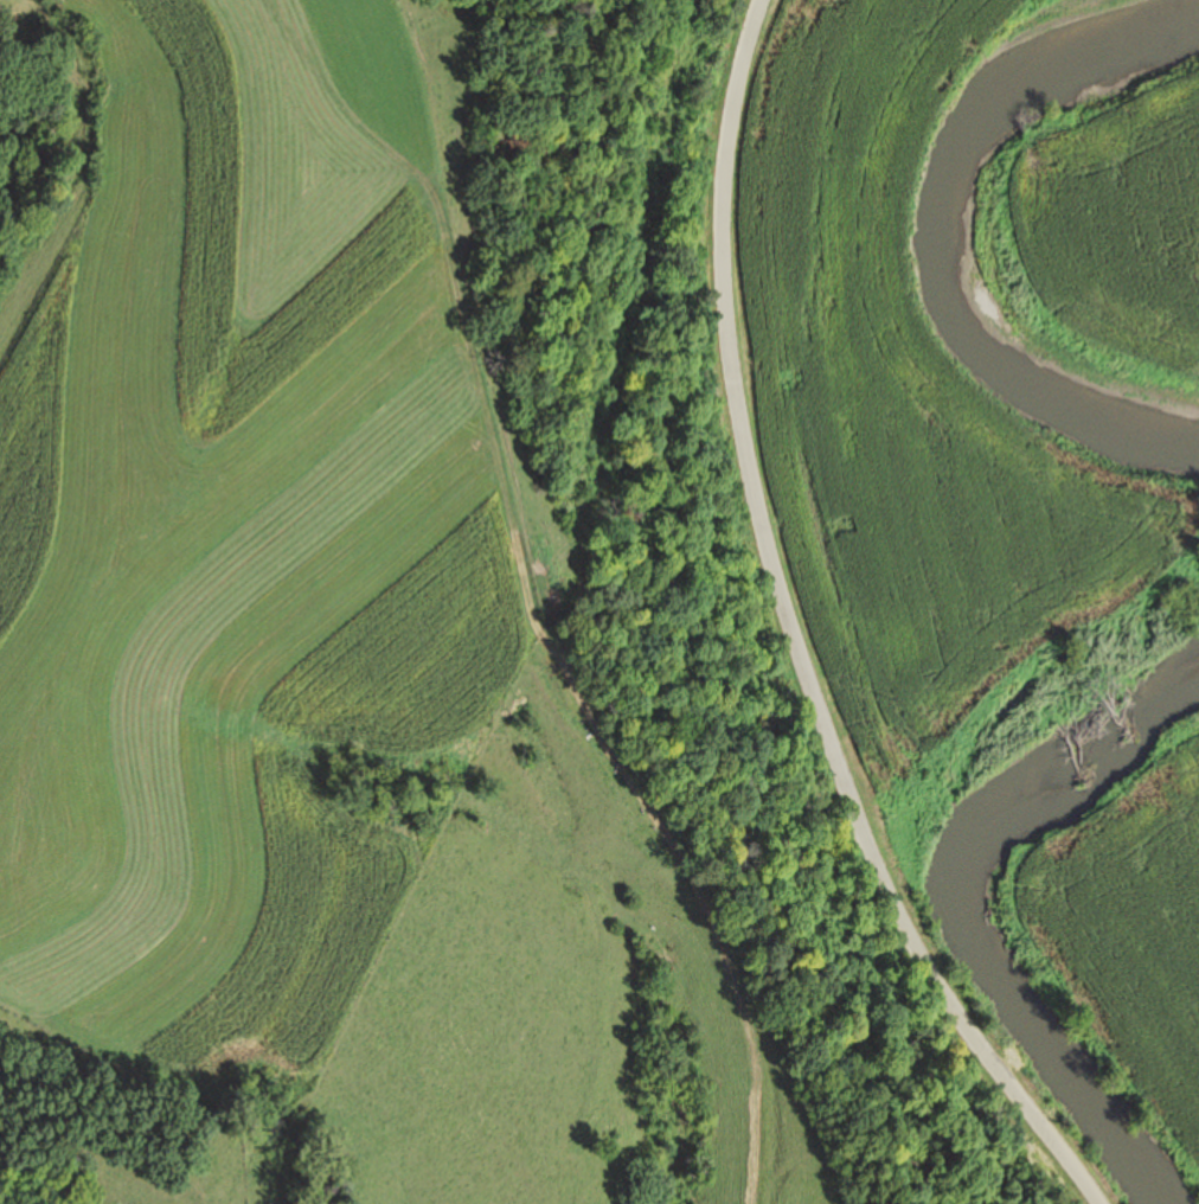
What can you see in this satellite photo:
river: (986, 197)
road: (725, 645)
river: (957, 905)

